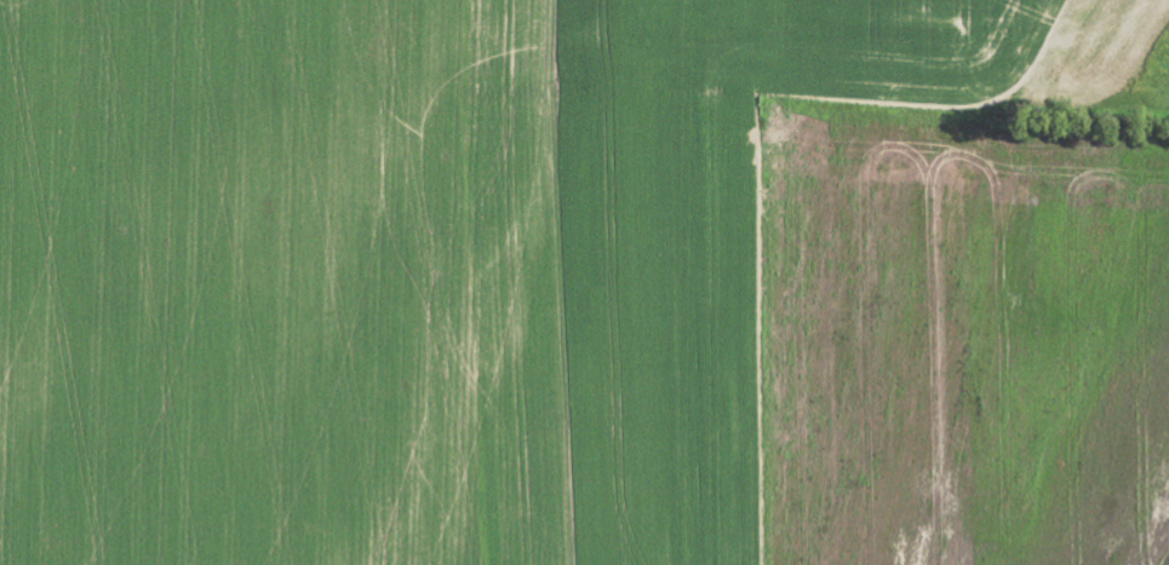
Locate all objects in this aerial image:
road: (607, 282)

